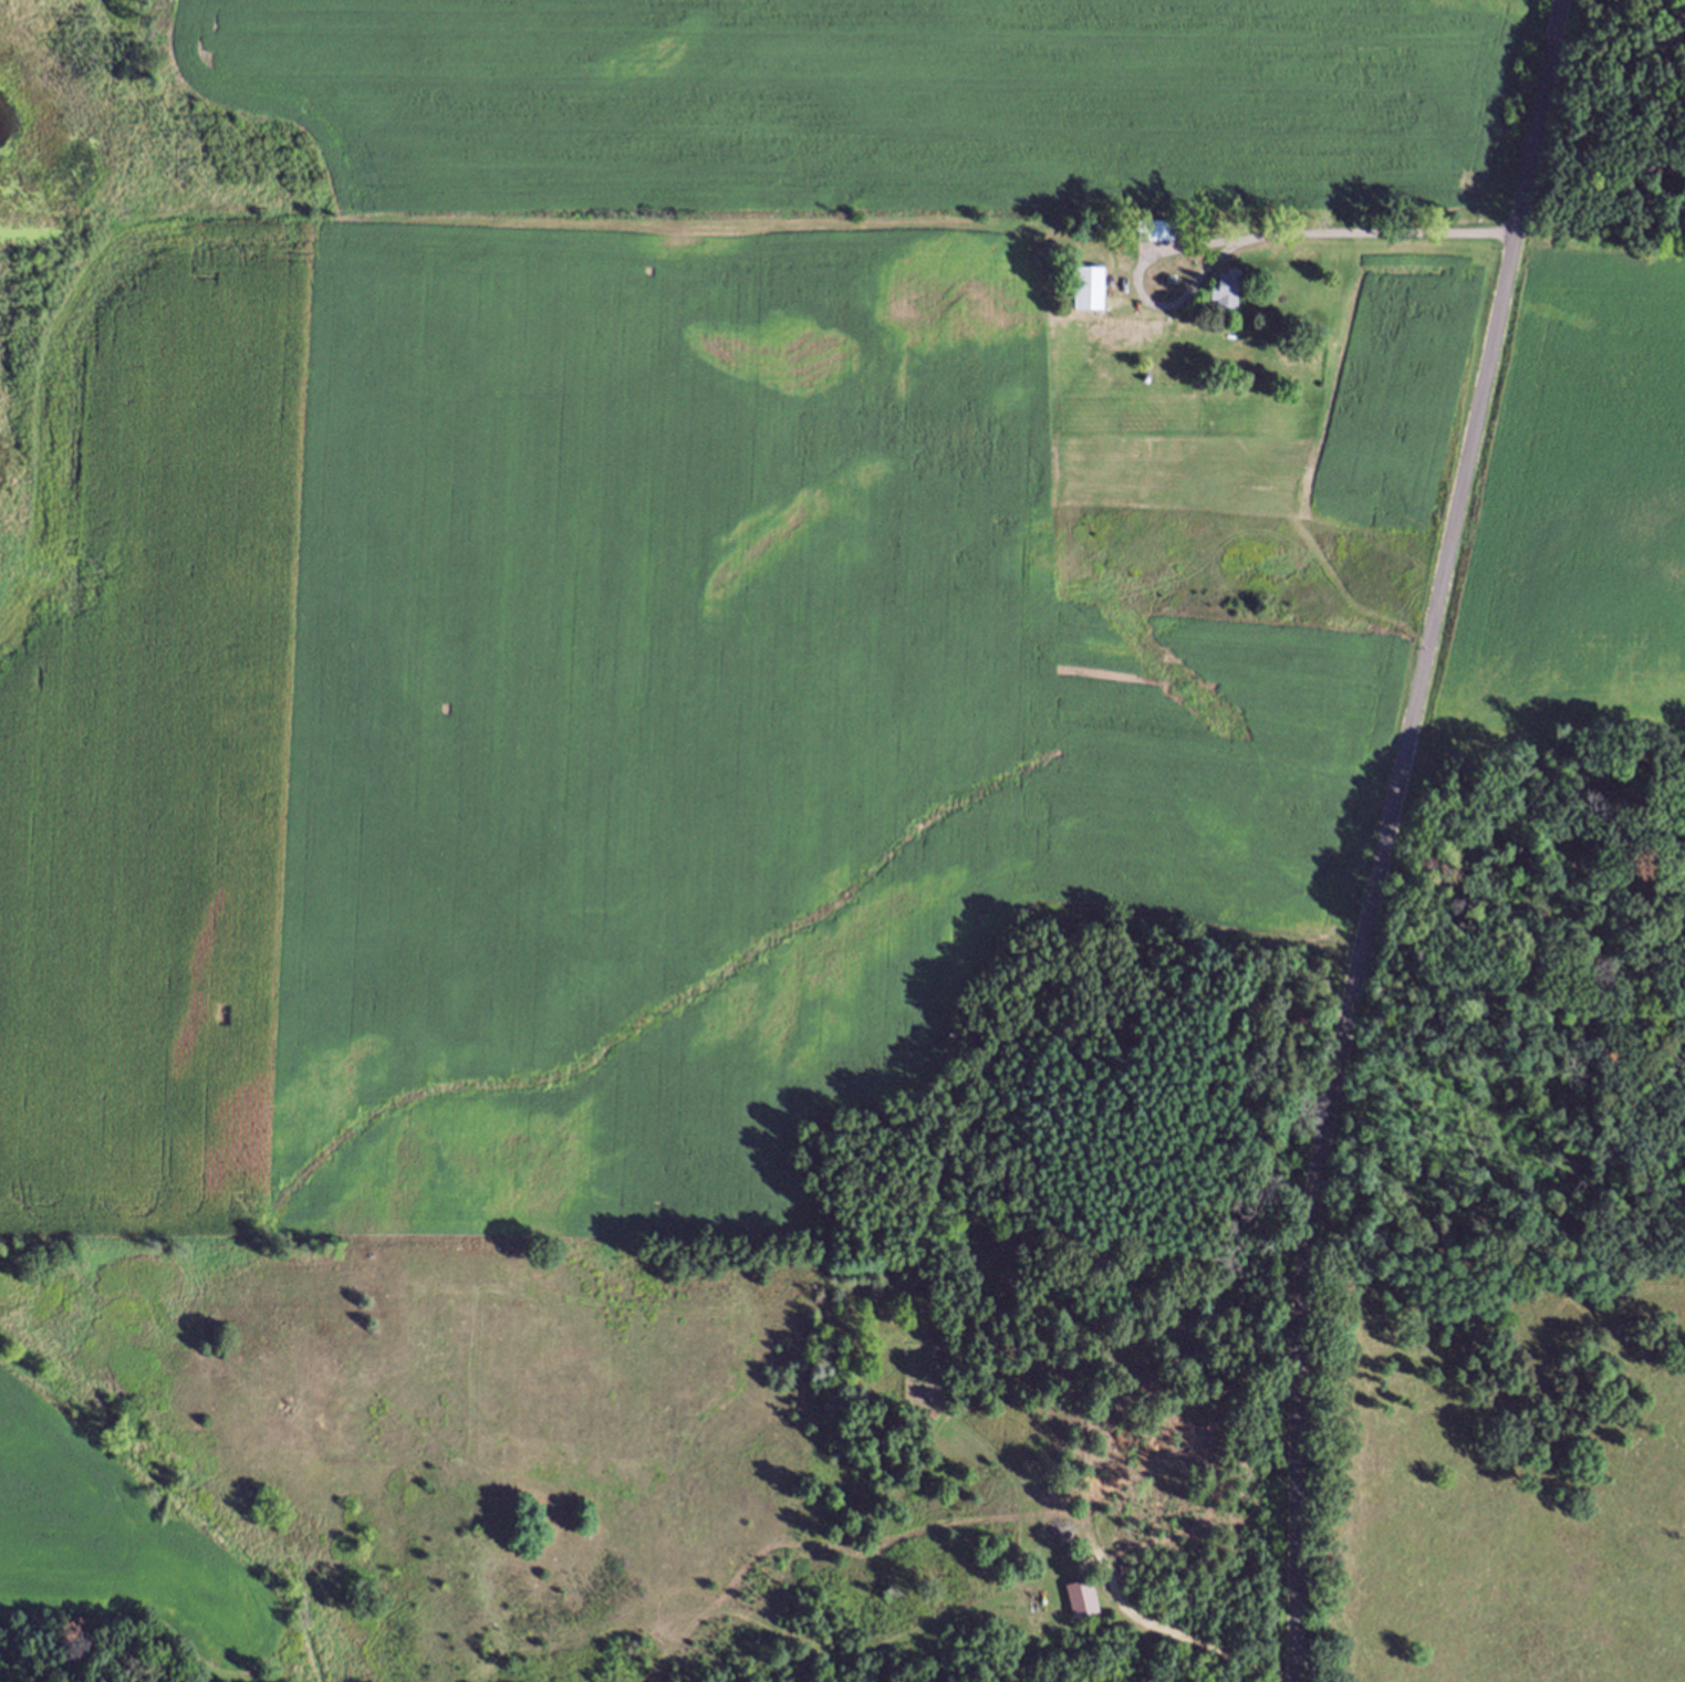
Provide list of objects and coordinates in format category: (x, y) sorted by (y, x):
building: (1153, 241)
building: (1086, 300)
building: (1224, 300)
road: (1381, 835)
building: (1080, 1607)

